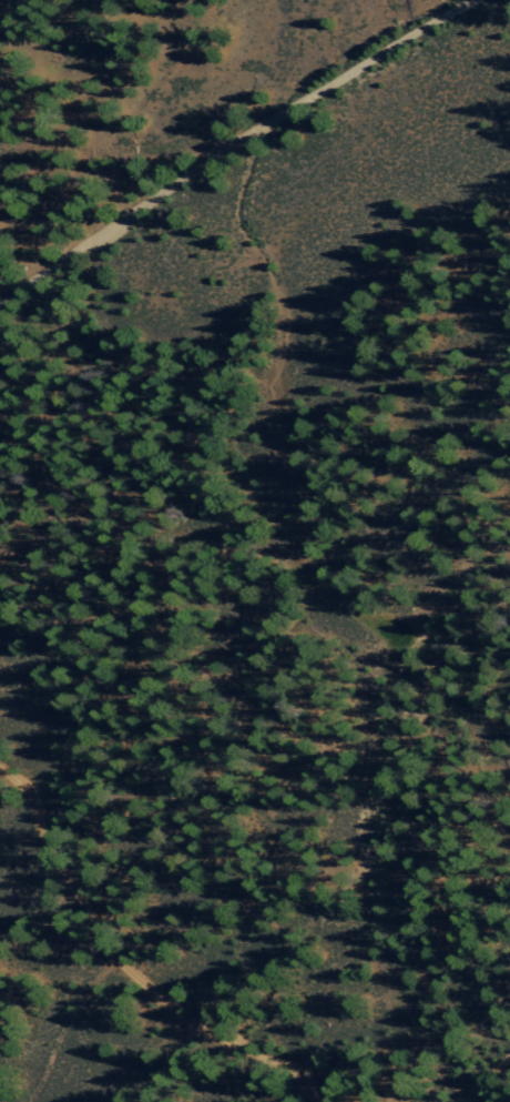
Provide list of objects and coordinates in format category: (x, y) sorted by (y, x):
road: (231, 146)
road: (502, 575)
road: (374, 835)
road: (127, 969)
road: (486, 1079)

